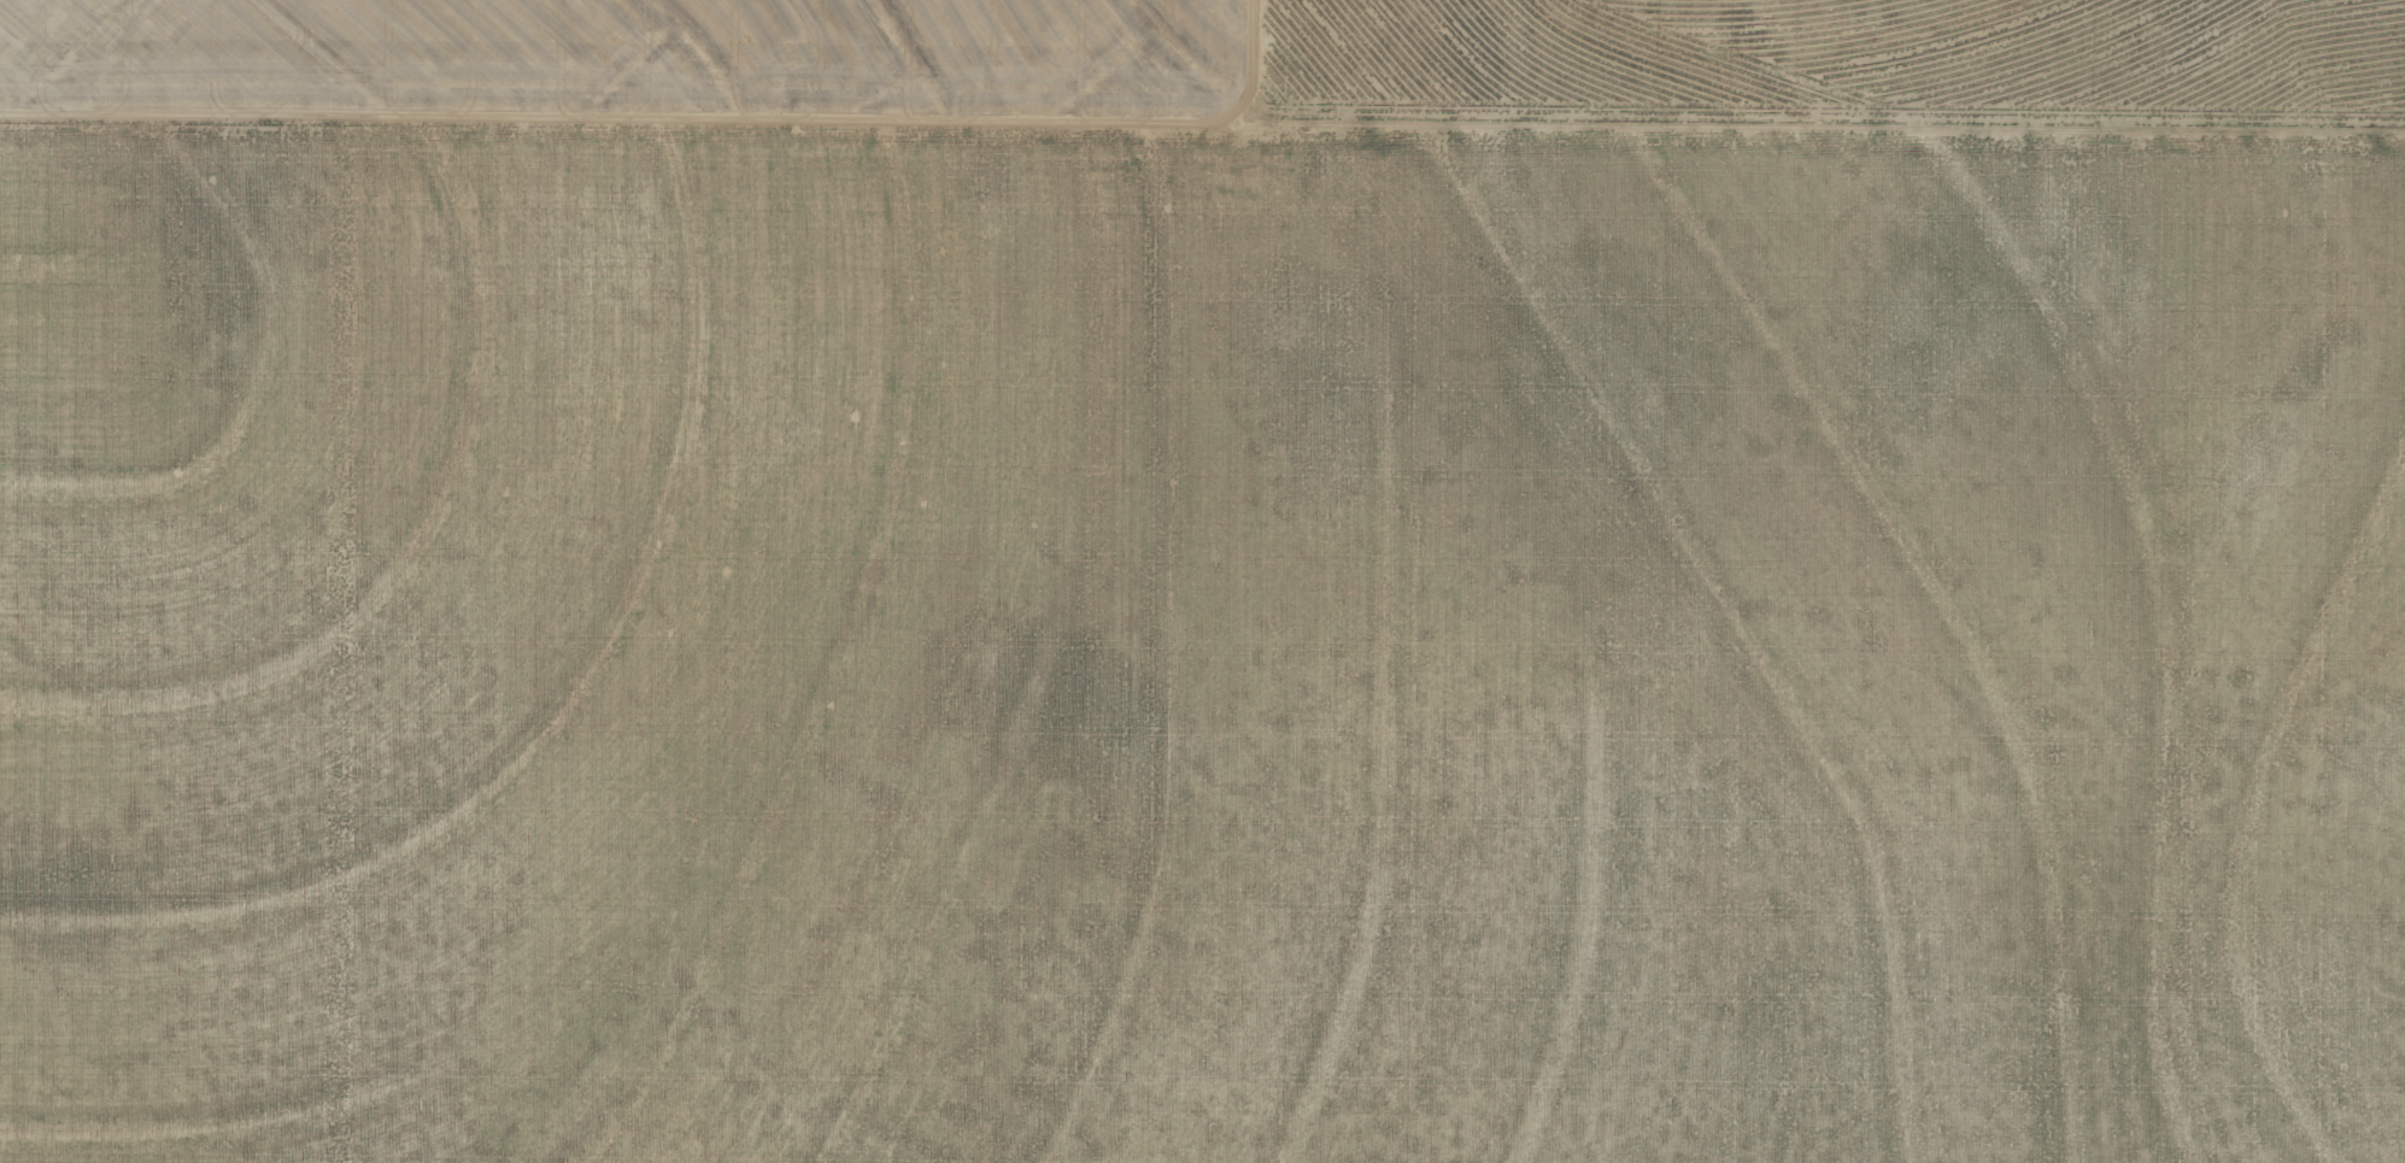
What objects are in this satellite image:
road: (58, 82)

